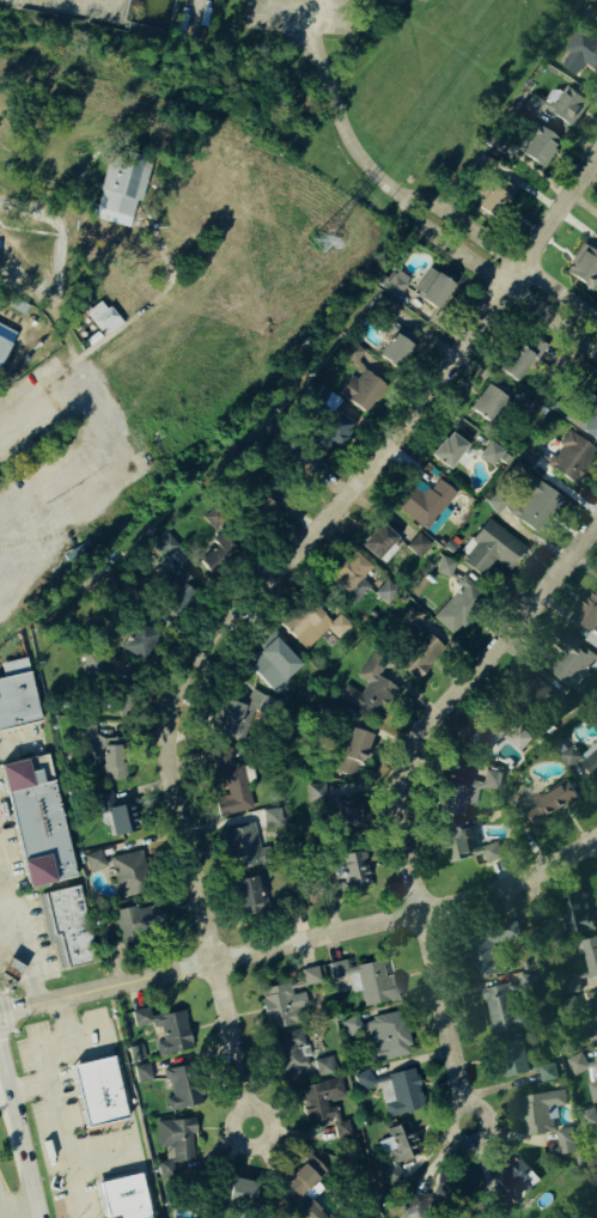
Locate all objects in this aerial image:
road: (285, 14)
road: (315, 45)
building: (583, 45)
road: (294, 47)
building: (568, 108)
road: (345, 142)
building: (537, 146)
building: (118, 191)
building: (498, 195)
power tower: (316, 248)
road: (498, 252)
building: (584, 268)
road: (489, 280)
building: (432, 290)
road: (138, 313)
building: (103, 318)
building: (5, 341)
building: (520, 358)
building: (364, 392)
building: (487, 402)
building: (586, 420)
road: (105, 439)
building: (449, 451)
building: (573, 458)
building: (427, 505)
building: (536, 508)
building: (378, 542)
building: (493, 550)
building: (217, 558)
building: (445, 568)
building: (352, 579)
road: (261, 591)
building: (385, 593)
building: (459, 609)
building: (589, 619)
building: (313, 627)
building: (138, 643)
building: (419, 650)
building: (573, 664)
building: (93, 665)
building: (274, 666)
building: (368, 690)
building: (16, 698)
building: (120, 710)
building: (246, 718)
building: (518, 739)
road: (17, 741)
building: (105, 754)
building: (353, 755)
building: (581, 760)
road: (391, 781)
building: (232, 792)
building: (552, 804)
building: (333, 806)
building: (272, 820)
building: (122, 821)
building: (38, 827)
building: (243, 847)
building: (468, 847)
building: (95, 860)
building: (355, 872)
building: (129, 876)
road: (511, 885)
building: (251, 896)
building: (541, 912)
building: (579, 914)
building: (139, 924)
building: (68, 927)
road: (6, 928)
road: (17, 938)
building: (491, 951)
building: (591, 957)
road: (208, 964)
building: (12, 969)
building: (366, 982)
building: (286, 1003)
building: (507, 1005)
road: (65, 1018)
building: (165, 1031)
building: (379, 1037)
building: (514, 1059)
building: (301, 1060)
building: (581, 1066)
building: (142, 1074)
building: (547, 1074)
road: (49, 1084)
road: (30, 1088)
building: (99, 1090)
building: (176, 1091)
building: (395, 1092)
building: (592, 1094)
road: (471, 1107)
building: (325, 1108)
road: (257, 1109)
building: (589, 1122)
building: (547, 1123)
road: (19, 1132)
building: (398, 1145)
building: (175, 1146)
road: (102, 1152)
building: (305, 1179)
building: (516, 1181)
building: (239, 1194)
building: (124, 1198)
building: (433, 1198)
road: (19, 1211)
road: (0, 1216)

